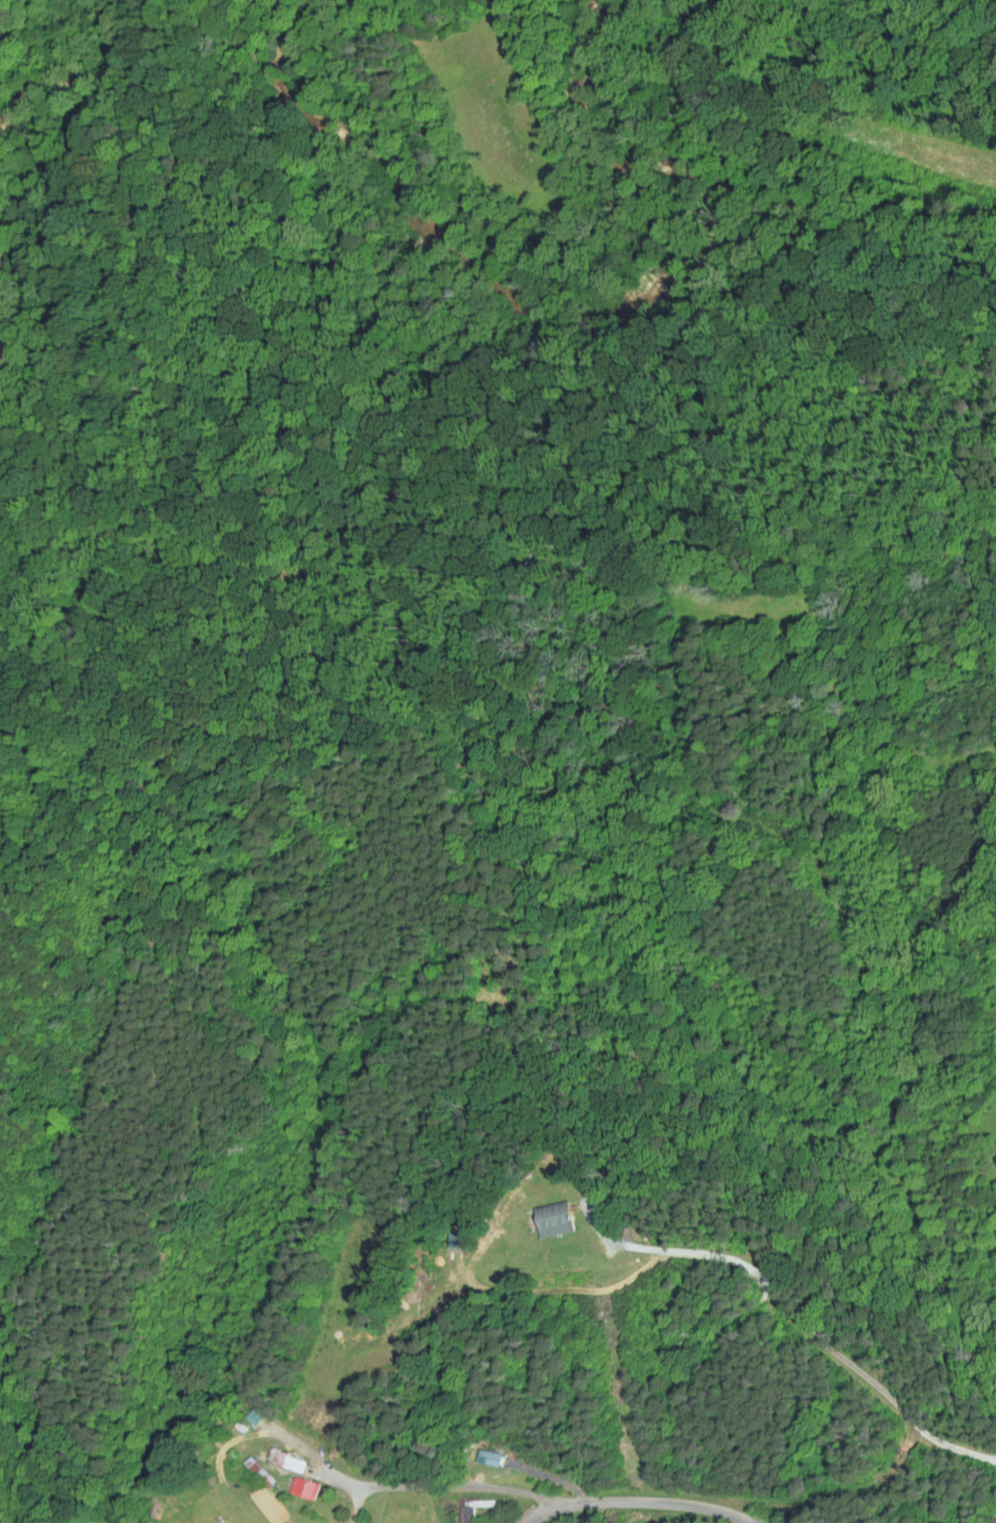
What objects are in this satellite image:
building: (541, 1214)
building: (555, 1220)
building: (441, 1234)
road: (797, 1322)
building: (241, 1411)
building: (254, 1415)
building: (489, 1456)
building: (286, 1458)
building: (259, 1470)
road: (415, 1484)
building: (304, 1487)
road: (640, 1501)
building: (478, 1502)
building: (219, 1517)
building: (993, 1519)

